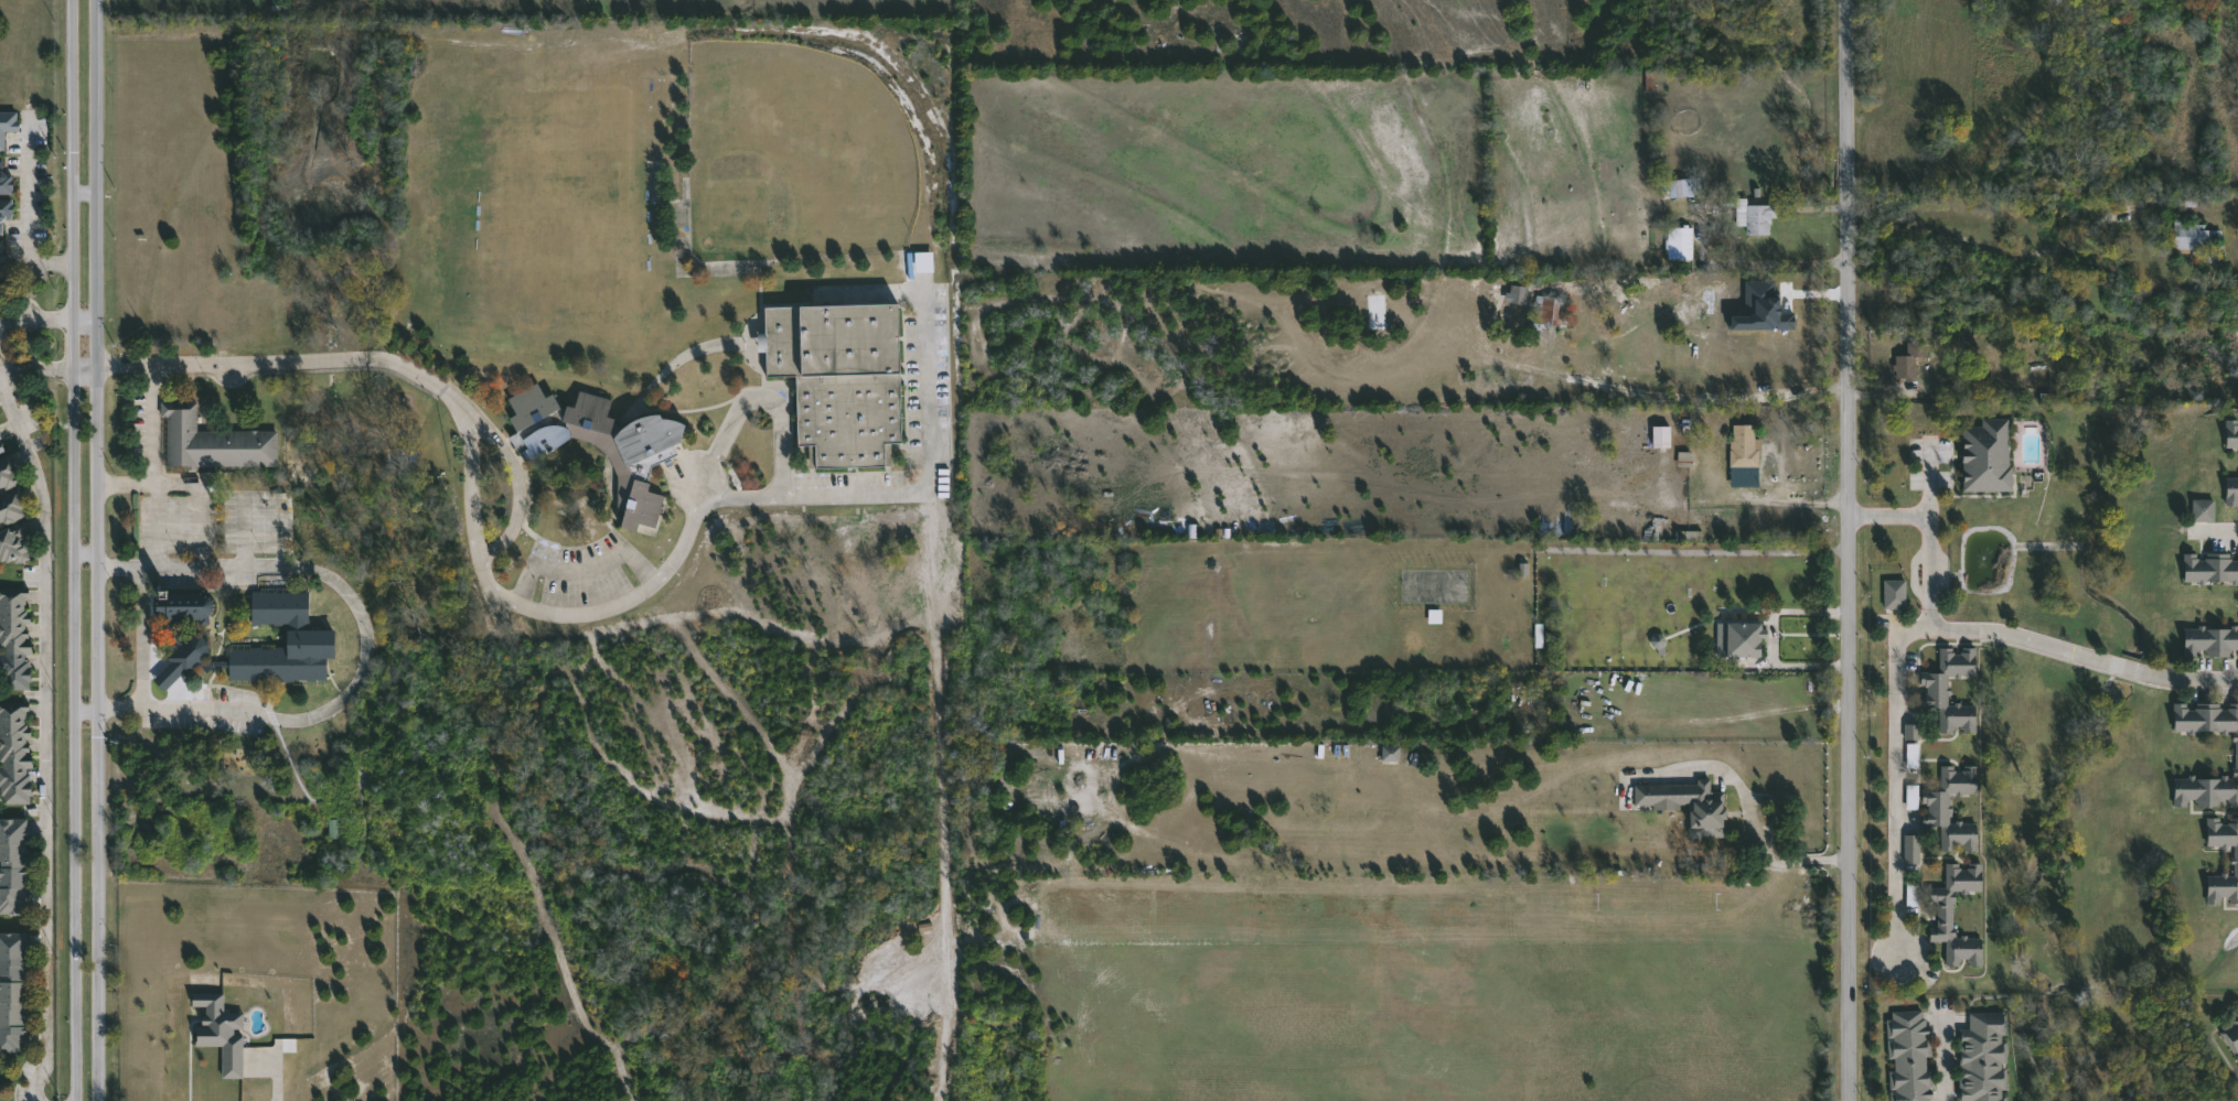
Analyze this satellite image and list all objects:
building: (8, 122)
park: (794, 153)
building: (4, 180)
building: (1683, 186)
road: (83, 190)
building: (4, 208)
road: (26, 208)
building: (1756, 217)
building: (2189, 237)
building: (1680, 241)
road: (1999, 249)
building: (2, 256)
building: (922, 261)
road: (1771, 265)
building: (1889, 289)
building: (1760, 309)
building: (1551, 310)
road: (46, 319)
building: (1979, 335)
road: (28, 346)
road: (313, 358)
building: (1905, 358)
road: (124, 363)
road: (47, 370)
building: (840, 375)
road: (1695, 398)
road: (758, 400)
road: (924, 414)
road: (151, 423)
building: (2230, 431)
building: (1660, 435)
building: (213, 440)
building: (1743, 443)
building: (1, 444)
building: (603, 446)
building: (1984, 455)
building: (1681, 458)
building: (7, 474)
road: (1930, 481)
road: (212, 484)
building: (2231, 487)
road: (737, 496)
building: (12, 506)
building: (2203, 507)
road: (1889, 515)
road: (160, 525)
road: (200, 525)
road: (2215, 529)
building: (1680, 535)
building: (14, 543)
road: (499, 546)
road: (72, 550)
road: (96, 550)
road: (1849, 550)
road: (1699, 551)
road: (84, 554)
building: (2209, 564)
road: (579, 571)
road: (1931, 573)
building: (1894, 594)
road: (606, 608)
building: (1434, 614)
building: (310, 635)
building: (1739, 637)
road: (1773, 637)
building: (14, 638)
road: (143, 638)
building: (2210, 639)
road: (2066, 650)
road: (367, 656)
building: (1934, 686)
building: (1910, 731)
road: (45, 737)
building: (14, 751)
building: (2236, 752)
building: (1389, 753)
building: (1910, 755)
road: (1895, 787)
building: (1910, 796)
building: (1685, 800)
road: (1753, 803)
building: (1936, 805)
building: (333, 828)
building: (1910, 849)
building: (2235, 857)
building: (14, 865)
building: (1912, 890)
building: (1945, 913)
building: (13, 992)
building: (229, 1019)
building: (2232, 1029)
building: (1908, 1054)
road: (1945, 1056)
building: (1982, 1056)
road: (280, 1079)

